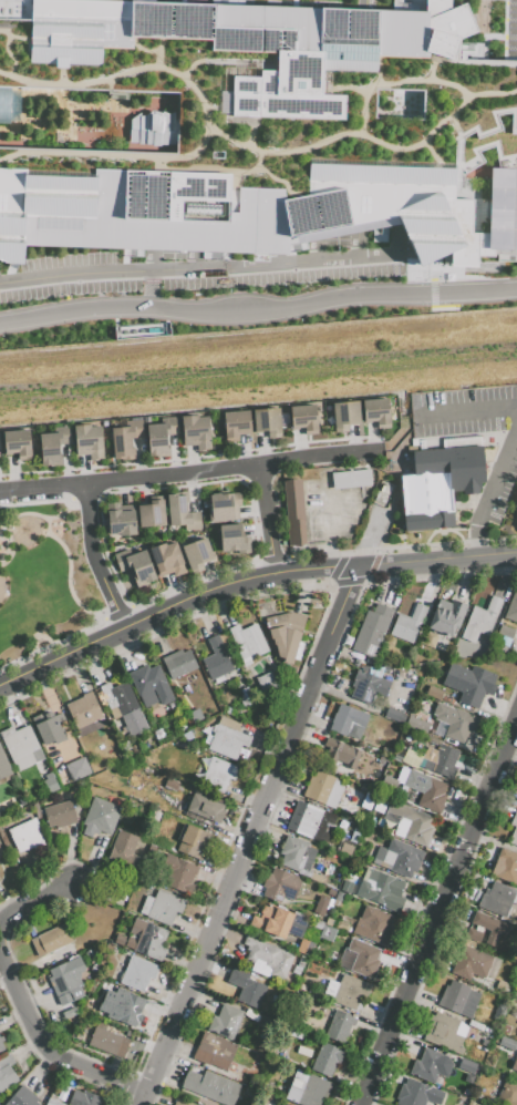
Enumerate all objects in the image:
road: (242, 1)
road: (292, 2)
road: (363, 3)
street lamp: (488, 8)
street lamp: (488, 25)
road: (483, 28)
road: (504, 28)
parking lot: (510, 28)
street lamp: (500, 31)
road: (495, 35)
road: (510, 37)
road: (17, 38)
road: (142, 49)
road: (6, 51)
road: (156, 53)
road: (459, 57)
road: (214, 60)
road: (474, 62)
road: (430, 65)
road: (375, 71)
road: (60, 74)
road: (415, 80)
road: (107, 85)
road: (490, 92)
road: (362, 95)
road: (108, 100)
park: (117, 101)
road: (76, 106)
road: (204, 116)
road: (492, 119)
building: (254, 126)
road: (249, 133)
road: (343, 133)
road: (456, 140)
road: (485, 143)
road: (427, 151)
road: (256, 160)
road: (261, 171)
street lamp: (334, 248)
street lamp: (172, 260)
parking lot: (201, 268)
road: (199, 270)
street lamp: (486, 277)
street lamp: (371, 278)
street lamp: (423, 279)
street lamp: (159, 284)
street lamp: (226, 288)
road: (151, 290)
street lamp: (120, 293)
street lamp: (68, 296)
street lamp: (19, 303)
street lamp: (458, 306)
road: (258, 311)
street lamp: (299, 319)
street lamp: (71, 325)
street lamp: (187, 326)
street lamp: (1, 336)
railway: (258, 366)
railway: (258, 379)
building: (376, 412)
road: (469, 412)
building: (344, 416)
building: (303, 418)
building: (267, 421)
building: (236, 424)
building: (195, 431)
building: (161, 436)
building: (125, 439)
building: (87, 441)
building: (17, 443)
street lamp: (327, 444)
building: (53, 446)
road: (261, 450)
street lamp: (252, 453)
road: (189, 457)
street lamp: (182, 462)
parking lot: (506, 463)
street lamp: (111, 469)
road: (238, 469)
street lamp: (39, 475)
building: (350, 479)
road: (499, 480)
building: (440, 485)
road: (43, 488)
road: (153, 488)
road: (265, 490)
road: (71, 493)
parking lot: (30, 497)
building: (516, 502)
building: (223, 507)
parking lot: (329, 510)
building: (180, 511)
building: (294, 512)
building: (151, 513)
road: (22, 515)
road: (325, 516)
building: (120, 519)
street lamp: (97, 522)
road: (92, 531)
road: (271, 534)
building: (232, 539)
road: (502, 539)
road: (475, 540)
road: (484, 540)
road: (364, 545)
road: (422, 545)
road: (11, 549)
road: (362, 552)
road: (339, 553)
building: (196, 554)
road: (319, 554)
road: (296, 556)
building: (167, 559)
road: (270, 560)
road: (325, 562)
road: (277, 565)
building: (135, 566)
street lamp: (71, 577)
road: (72, 580)
park: (44, 581)
road: (190, 581)
road: (348, 581)
road: (248, 582)
street lamp: (93, 585)
road: (112, 592)
road: (340, 607)
building: (511, 608)
street lamp: (92, 610)
road: (117, 613)
building: (446, 616)
road: (124, 618)
building: (480, 620)
building: (407, 624)
street lamp: (45, 626)
building: (281, 632)
road: (107, 633)
street lamp: (82, 634)
building: (369, 634)
building: (505, 634)
building: (428, 640)
street lamp: (127, 642)
building: (247, 642)
building: (216, 658)
street lamp: (23, 661)
street lamp: (63, 671)
building: (188, 676)
building: (266, 683)
building: (469, 683)
building: (152, 686)
building: (368, 687)
building: (433, 693)
street lamp: (13, 694)
building: (124, 706)
building: (83, 710)
building: (396, 712)
building: (195, 715)
building: (347, 719)
building: (455, 722)
building: (417, 724)
building: (46, 727)
building: (227, 738)
building: (21, 747)
road: (291, 756)
building: (345, 756)
building: (73, 759)
building: (440, 759)
building: (3, 766)
building: (218, 774)
building: (51, 785)
building: (324, 788)
building: (426, 790)
building: (206, 807)
building: (2, 808)
building: (365, 808)
building: (516, 808)
building: (59, 815)
building: (100, 817)
building: (309, 822)
building: (411, 823)
building: (514, 829)
building: (365, 832)
building: (27, 836)
building: (193, 841)
building: (345, 849)
building: (124, 850)
building: (1, 852)
building: (296, 853)
building: (397, 858)
building: (506, 866)
road: (216, 867)
road: (238, 868)
building: (178, 874)
building: (280, 886)
building: (345, 886)
building: (381, 889)
road: (430, 892)
building: (498, 898)
building: (338, 899)
road: (33, 904)
building: (162, 907)
building: (320, 908)
road: (441, 911)
building: (278, 922)
road: (444, 924)
building: (374, 925)
building: (490, 927)
building: (473, 934)
building: (120, 939)
building: (146, 939)
building: (51, 940)
building: (306, 948)
building: (269, 956)
building: (334, 956)
building: (363, 958)
building: (301, 961)
building: (471, 963)
building: (136, 973)
building: (65, 980)
building: (504, 985)
building: (246, 988)
building: (350, 991)
building: (458, 999)
building: (122, 1006)
building: (226, 1022)
building: (84, 1025)
building: (340, 1025)
building: (443, 1032)
building: (1, 1039)
building: (108, 1042)
building: (507, 1043)
building: (1, 1047)
building: (215, 1051)
road: (46, 1052)
building: (328, 1058)
road: (44, 1061)
building: (514, 1063)
building: (427, 1065)
building: (467, 1066)
building: (7, 1073)
building: (210, 1086)
building: (307, 1088)
building: (508, 1093)
building: (416, 1094)
building: (22, 1097)
building: (84, 1098)
building: (52, 1102)
building: (182, 1102)
building: (283, 1104)
building: (286, 1104)
building: (471, 1104)
building: (475, 1104)

